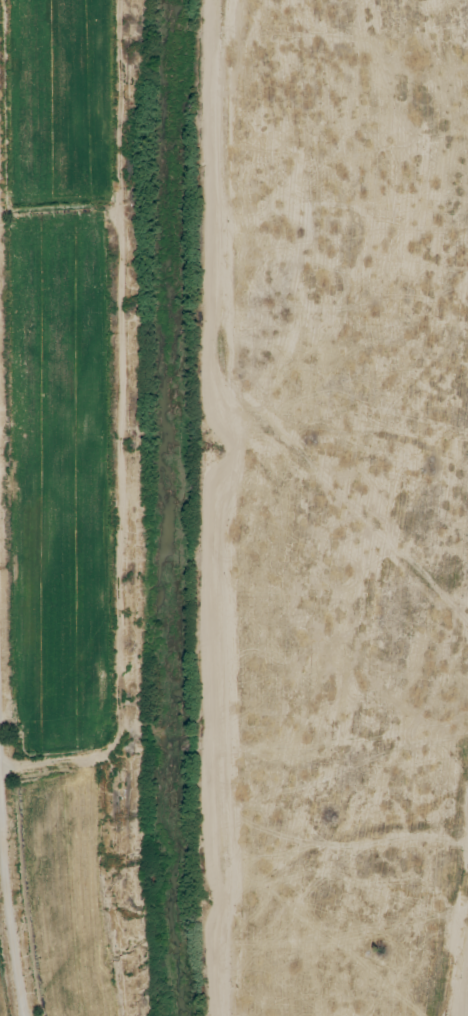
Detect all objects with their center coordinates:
river: (179, 507)
road: (11, 893)

